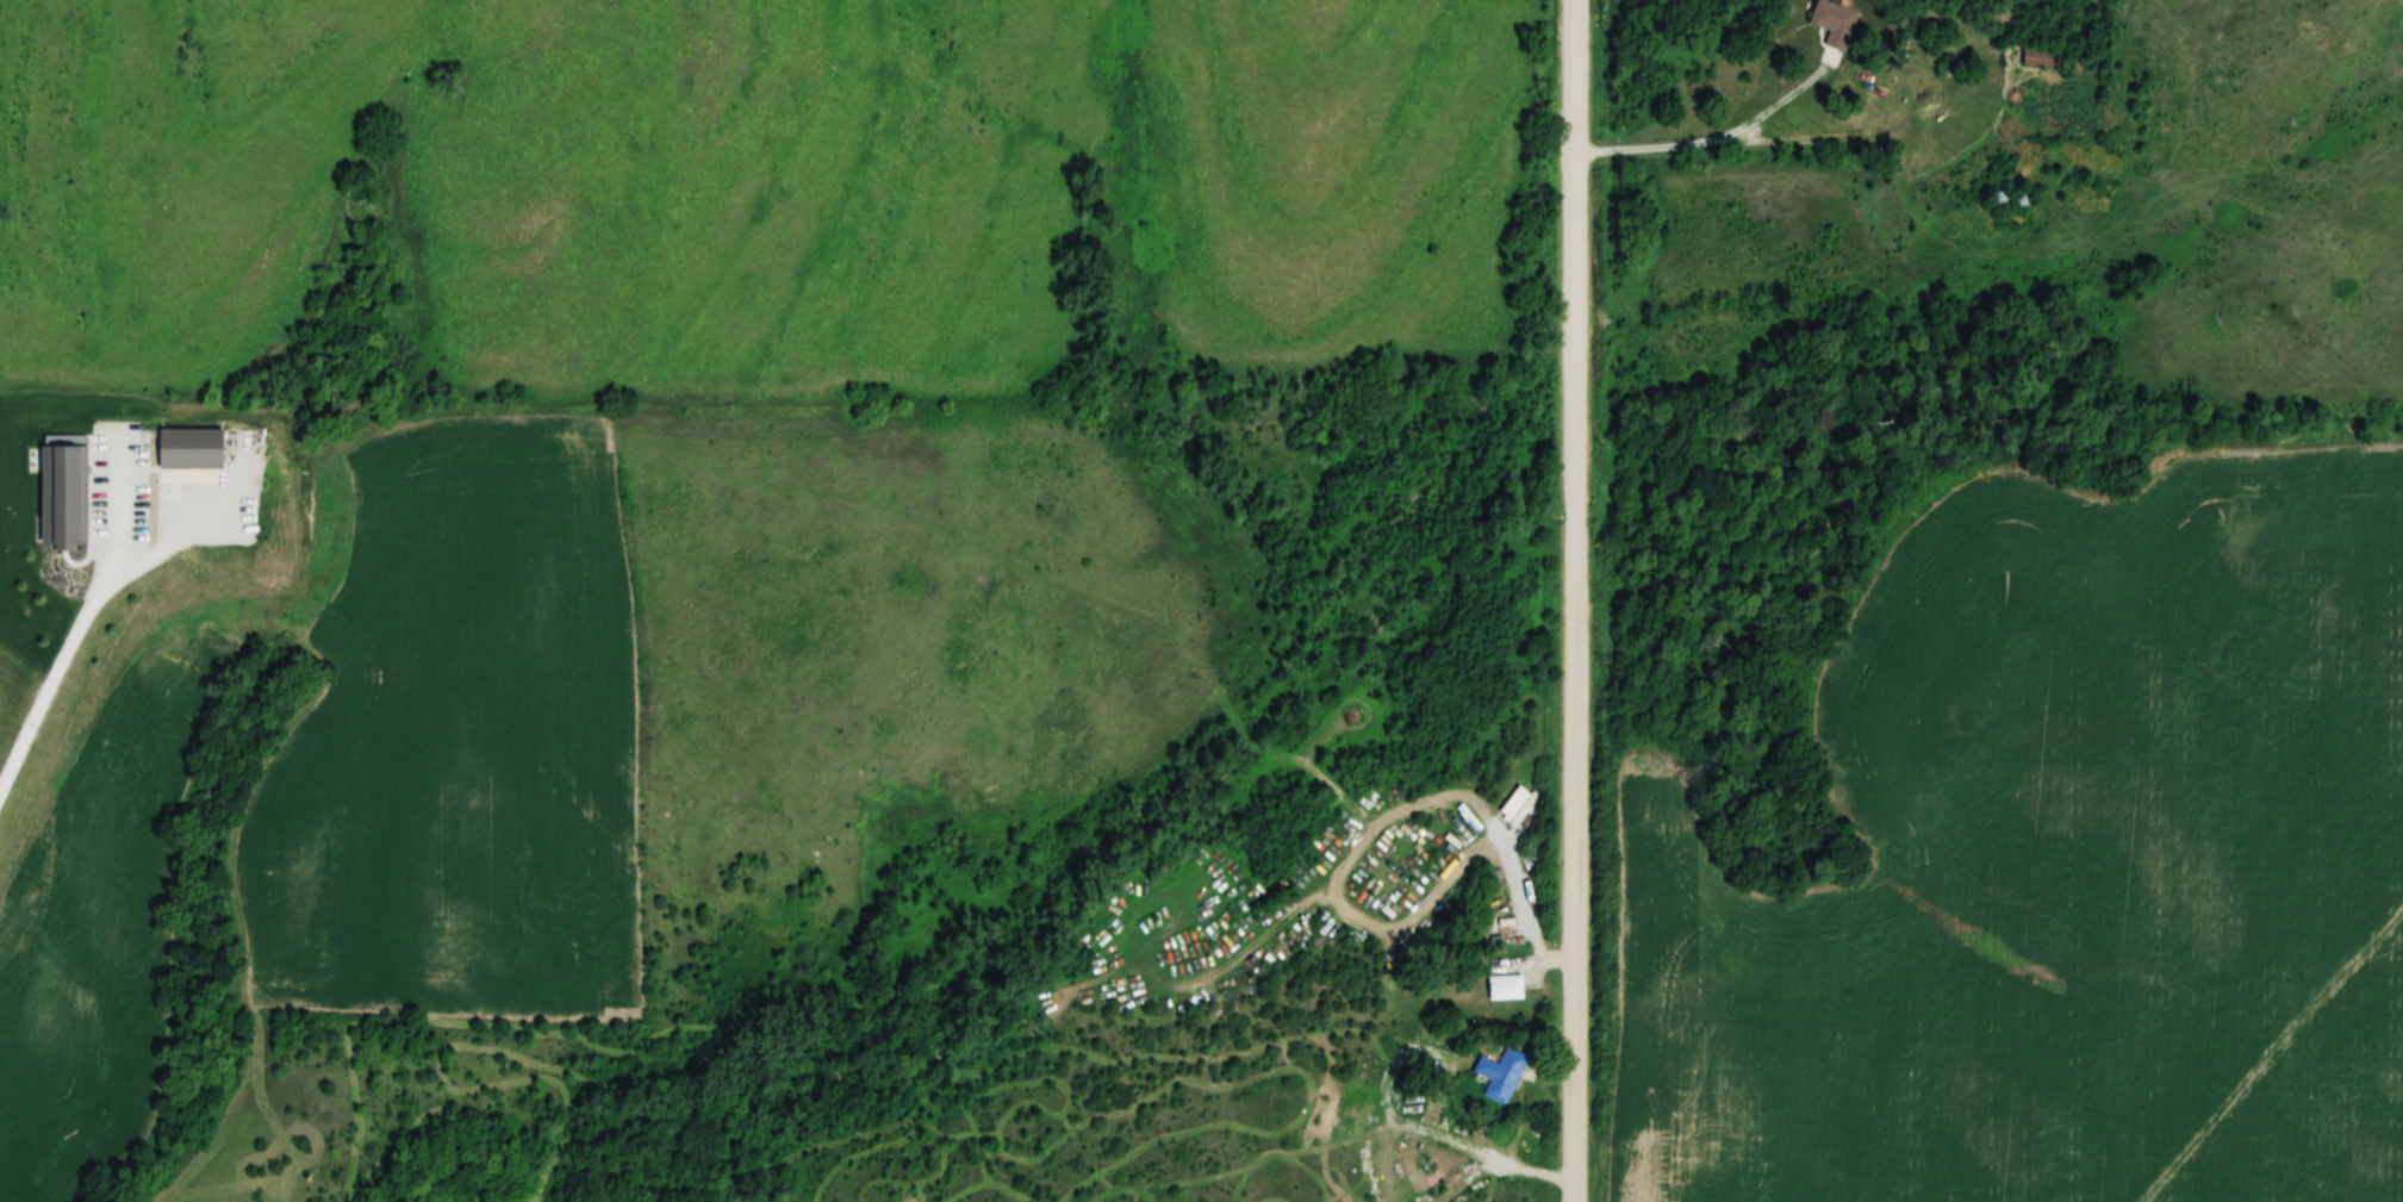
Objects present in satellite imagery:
building: (1835, 23)
building: (2046, 56)
building: (1863, 89)
road: (1710, 141)
road: (1576, 600)
road: (85, 621)
building: (1507, 986)
building: (1502, 1073)

